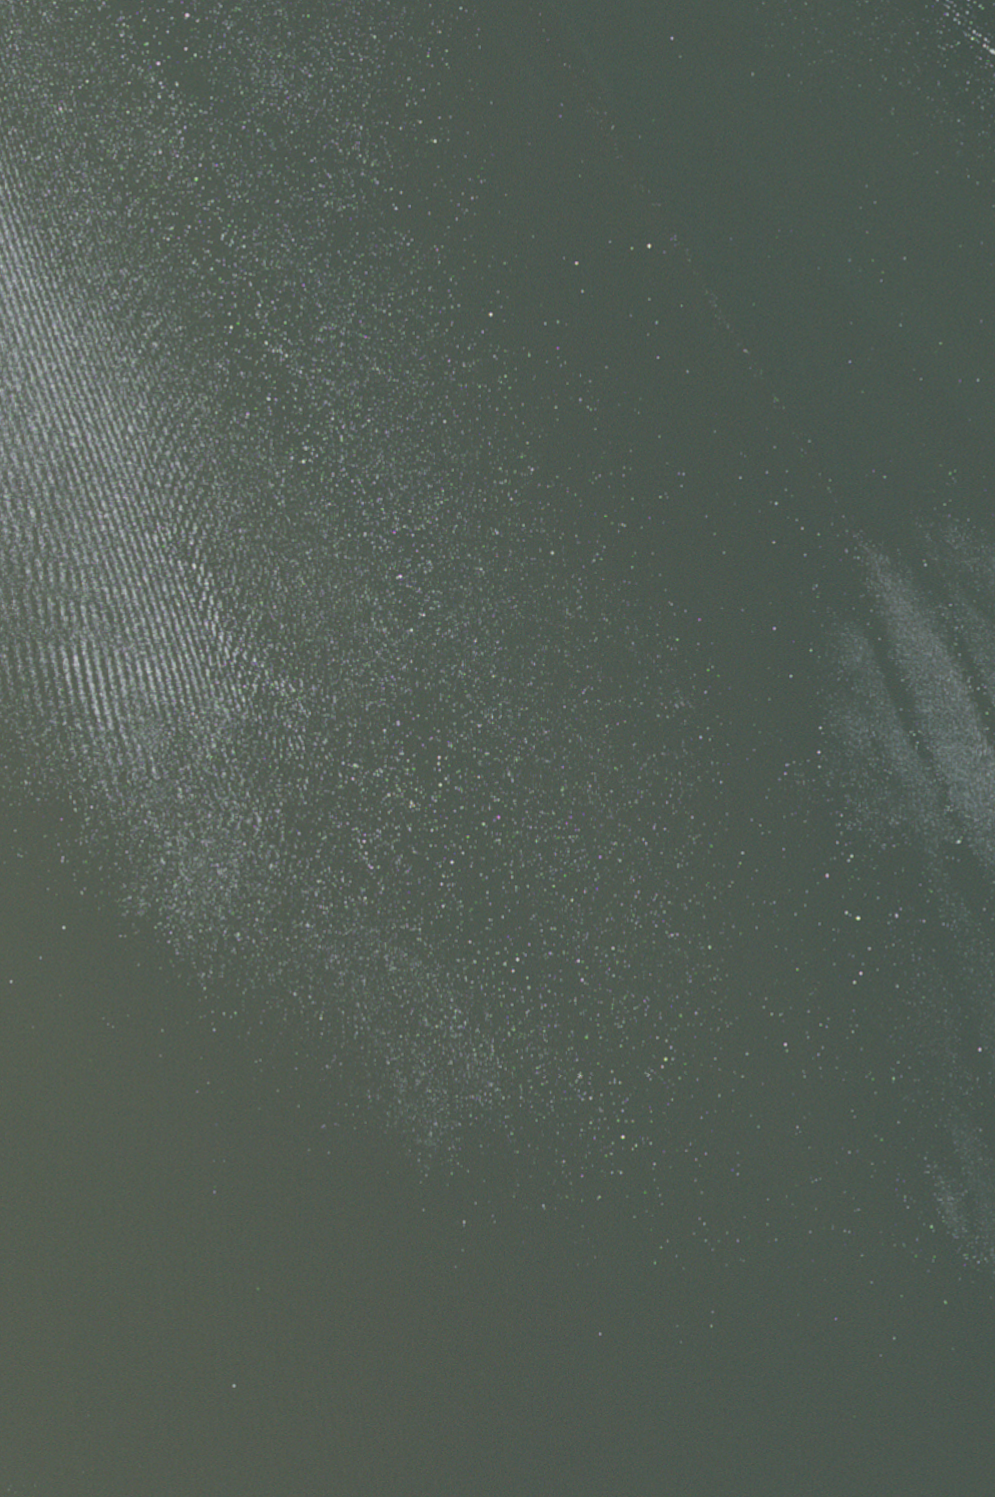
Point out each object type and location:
river: (66, 1334)

